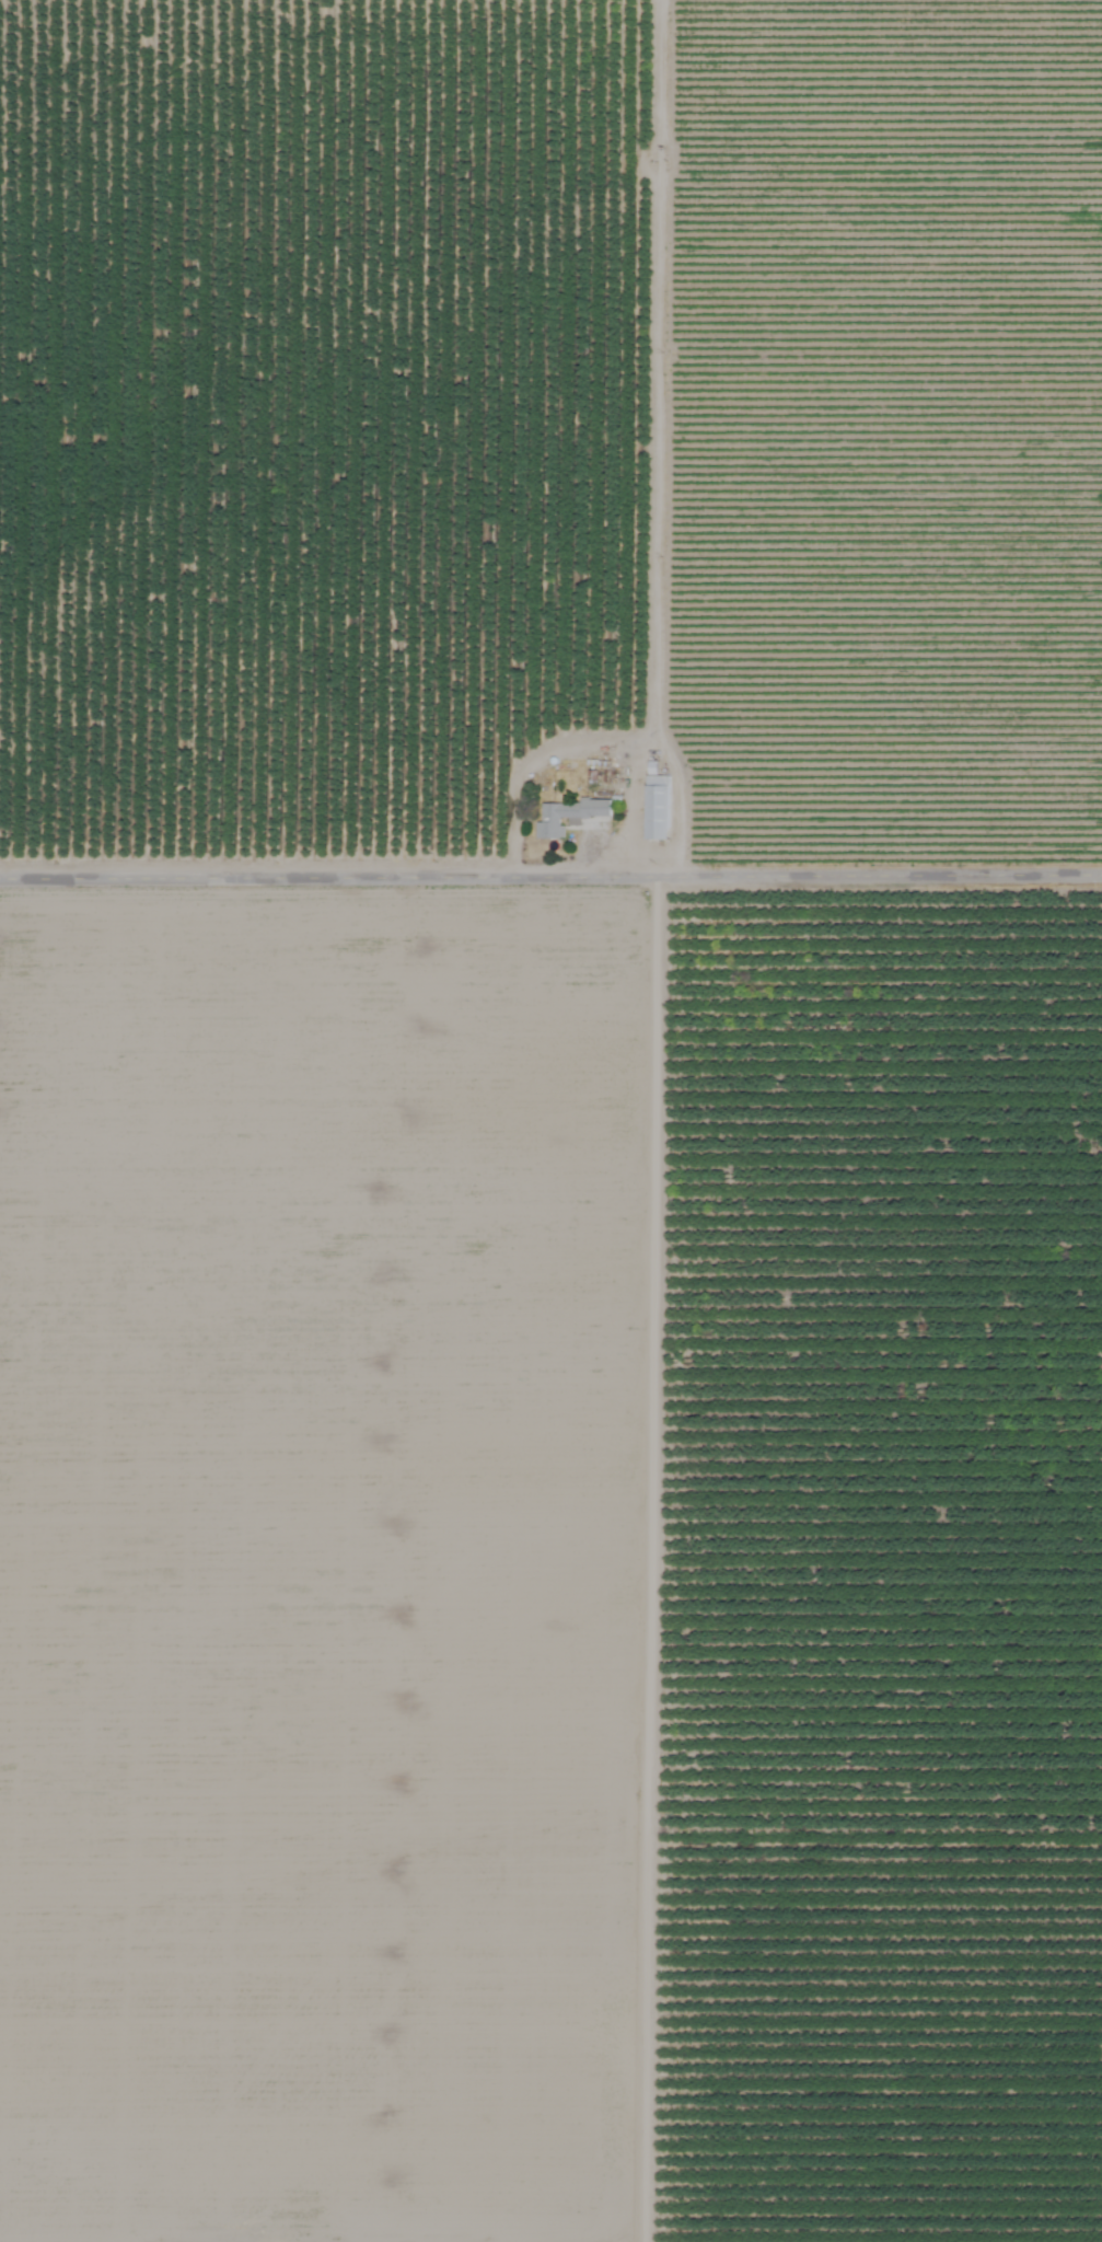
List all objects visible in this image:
road: (598, 742)
road: (634, 807)
building: (652, 808)
building: (562, 817)
road: (550, 868)
road: (640, 1555)

